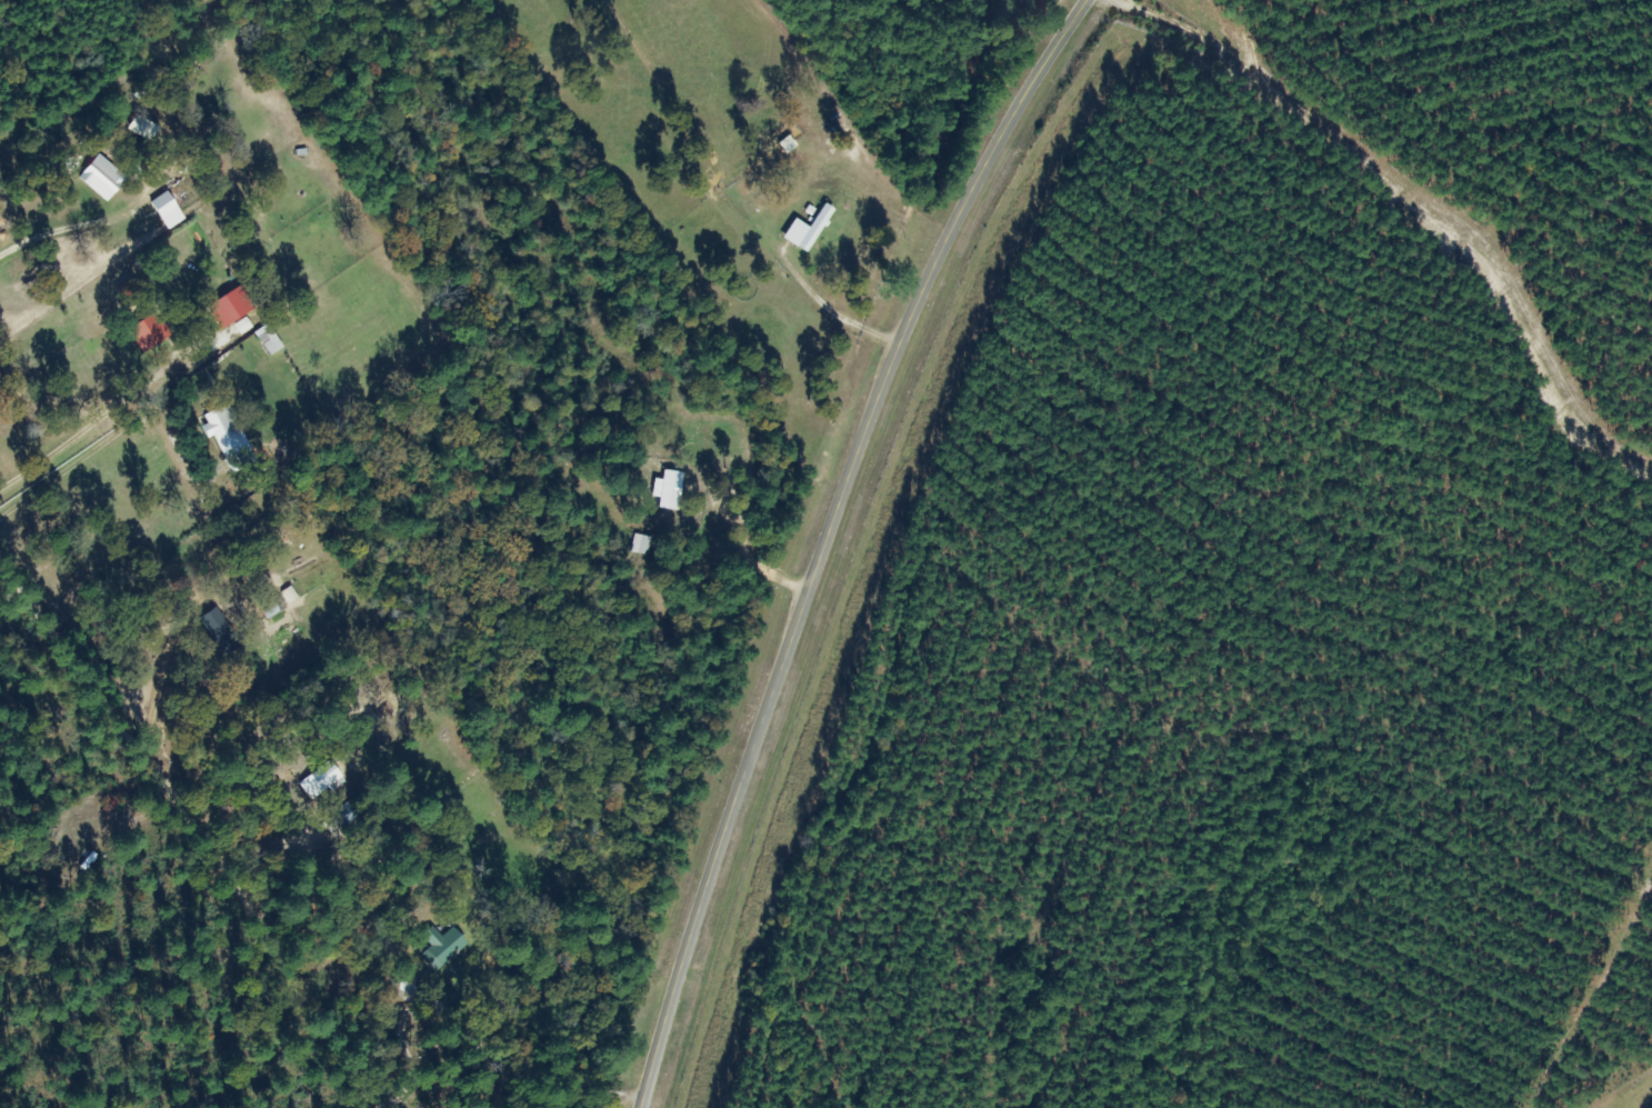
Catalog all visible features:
building: (102, 178)
building: (168, 211)
building: (808, 230)
building: (229, 308)
building: (149, 333)
building: (669, 490)
road: (830, 538)
building: (642, 545)
building: (222, 632)
building: (320, 780)
building: (342, 817)
road: (190, 842)
building: (442, 947)

